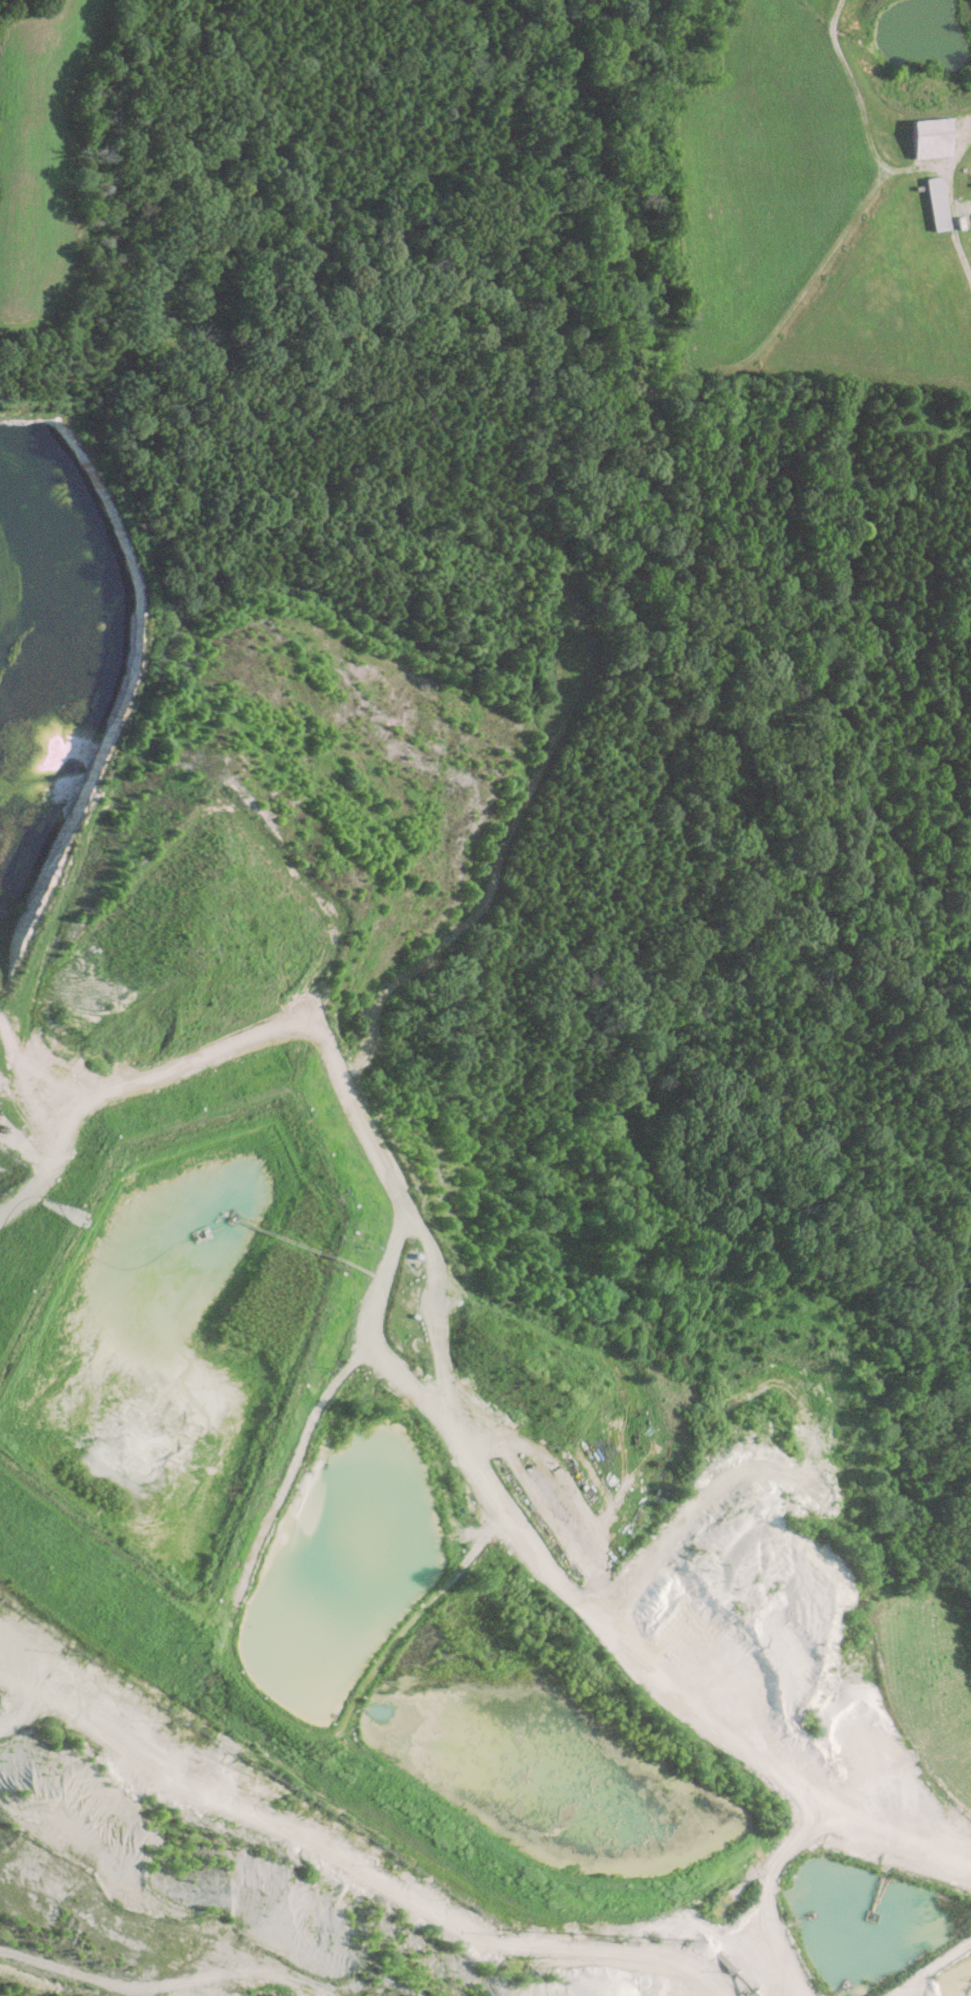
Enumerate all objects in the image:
building: (935, 203)
road: (954, 221)

